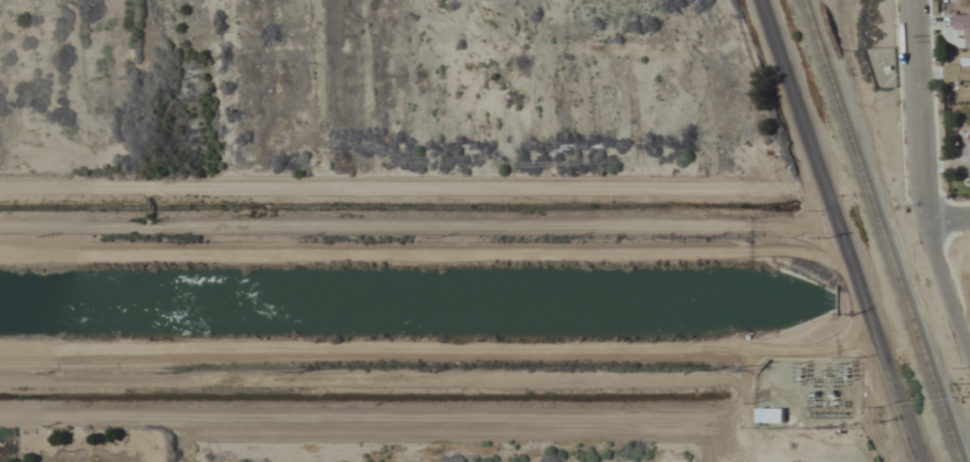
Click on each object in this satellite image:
road: (920, 108)
road: (803, 127)
road: (948, 217)
railway: (881, 231)
road: (423, 255)
road: (946, 288)
road: (883, 358)
power substation: (811, 394)
building: (769, 416)
park: (89, 443)

